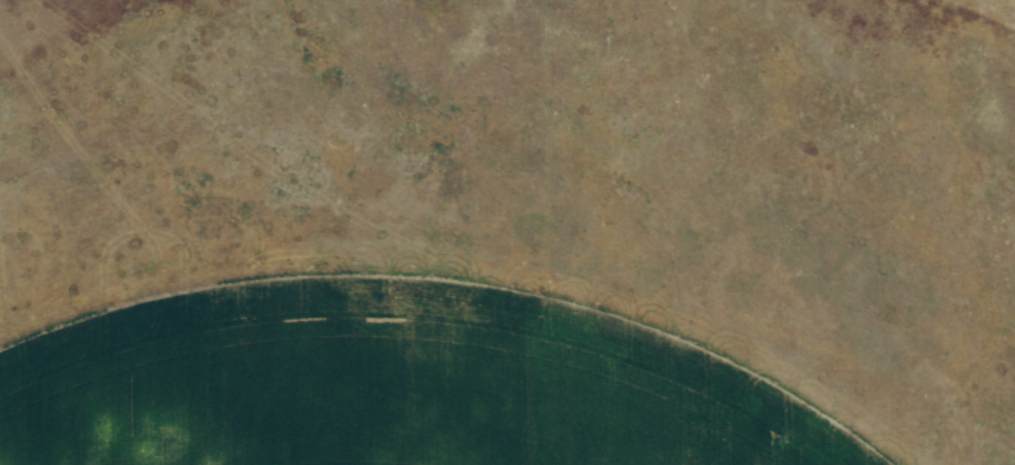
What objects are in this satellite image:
crop: (512, 236)

